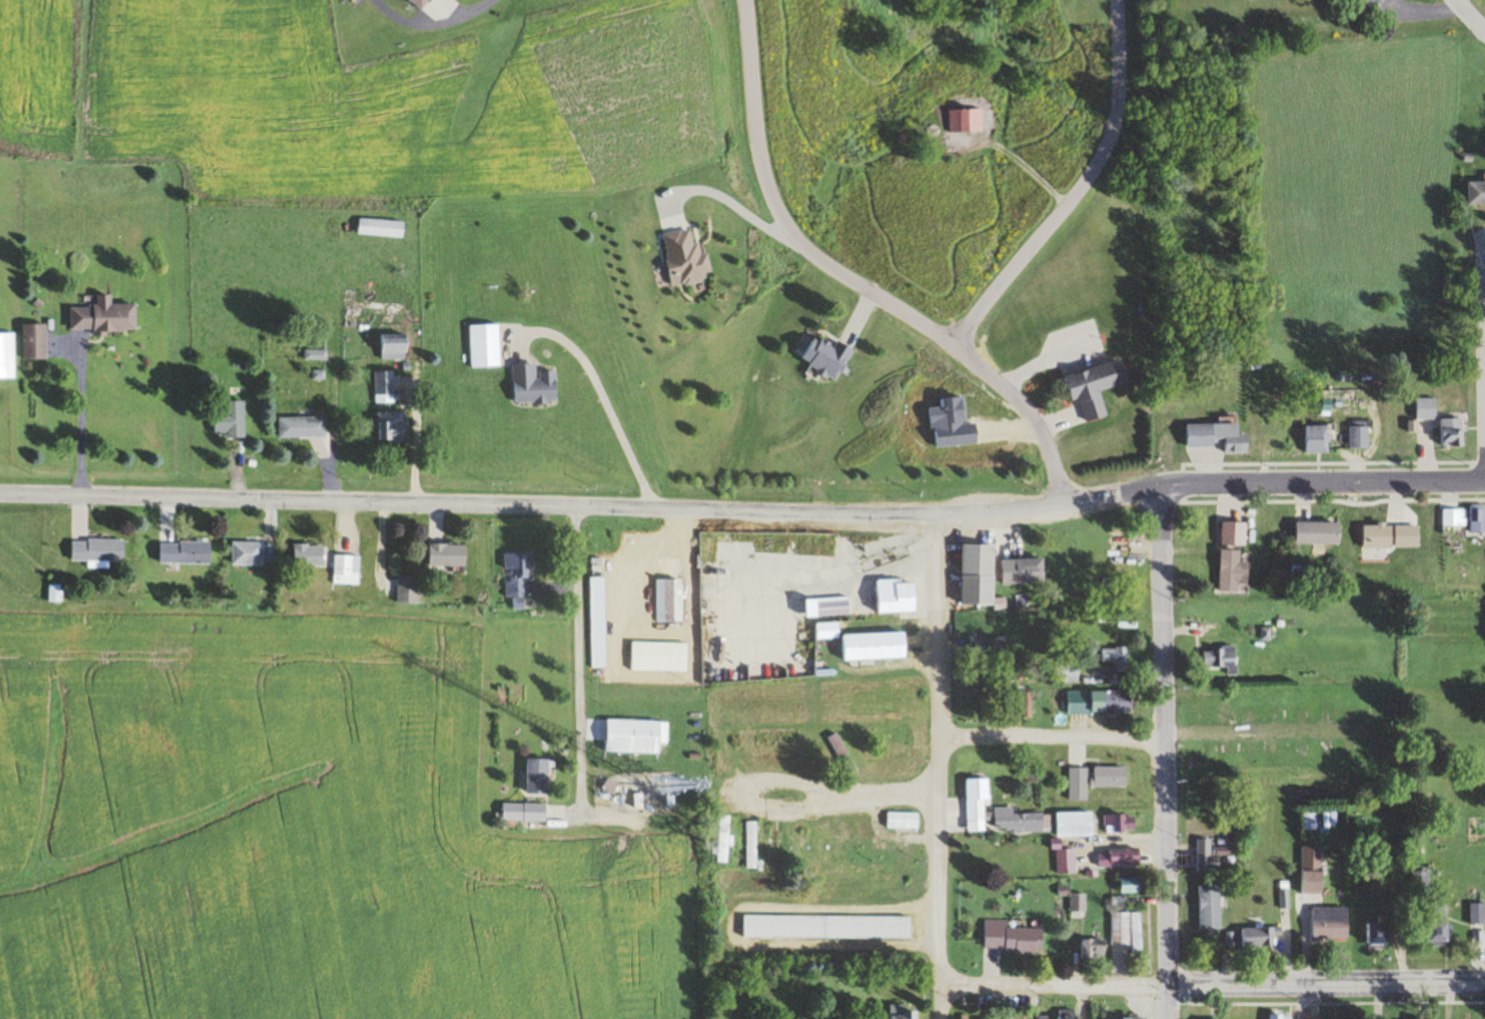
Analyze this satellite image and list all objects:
road: (479, 5)
road: (1471, 13)
building: (967, 122)
road: (1075, 190)
building: (1477, 194)
building: (382, 228)
road: (848, 280)
building: (107, 316)
building: (36, 341)
building: (395, 346)
building: (486, 346)
building: (8, 356)
building: (828, 356)
building: (1313, 380)
building: (536, 384)
building: (385, 387)
building: (1097, 387)
building: (1426, 408)
road: (78, 416)
building: (232, 420)
building: (393, 426)
building: (304, 427)
building: (1452, 432)
building: (1220, 436)
building: (1359, 437)
building: (1318, 438)
road: (743, 509)
building: (1455, 517)
building: (1478, 520)
building: (1320, 532)
building: (1235, 533)
building: (1382, 536)
building: (100, 550)
building: (187, 552)
building: (254, 553)
building: (449, 554)
building: (311, 555)
building: (1101, 559)
building: (348, 569)
building: (1024, 569)
building: (1235, 571)
building: (980, 574)
building: (517, 576)
building: (409, 590)
building: (899, 596)
building: (667, 600)
building: (829, 606)
building: (876, 646)
building: (989, 649)
building: (1116, 656)
building: (1219, 659)
road: (578, 661)
building: (1067, 672)
building: (1112, 701)
road: (1051, 730)
road: (1165, 735)
building: (635, 736)
building: (739, 748)
road: (937, 748)
building: (821, 752)
building: (843, 753)
building: (539, 775)
building: (1112, 776)
building: (1078, 783)
building: (978, 804)
building: (525, 811)
building: (903, 820)
building: (1019, 820)
building: (1121, 822)
building: (1077, 824)
building: (722, 839)
building: (867, 842)
building: (752, 844)
building: (810, 844)
building: (772, 846)
building: (980, 855)
building: (1120, 857)
building: (1067, 861)
building: (1209, 863)
building: (1313, 869)
building: (1133, 885)
building: (1079, 901)
building: (1211, 906)
building: (1477, 916)
building: (1331, 923)
building: (828, 926)
building: (1128, 930)
building: (1379, 934)
building: (1013, 937)
building: (1259, 938)
building: (1095, 948)
road: (1214, 985)
road: (943, 1001)
road: (1167, 1002)
building: (905, 1013)
building: (1067, 1014)
building: (1044, 1017)
building: (1133, 1018)
building: (1296, 1018)

